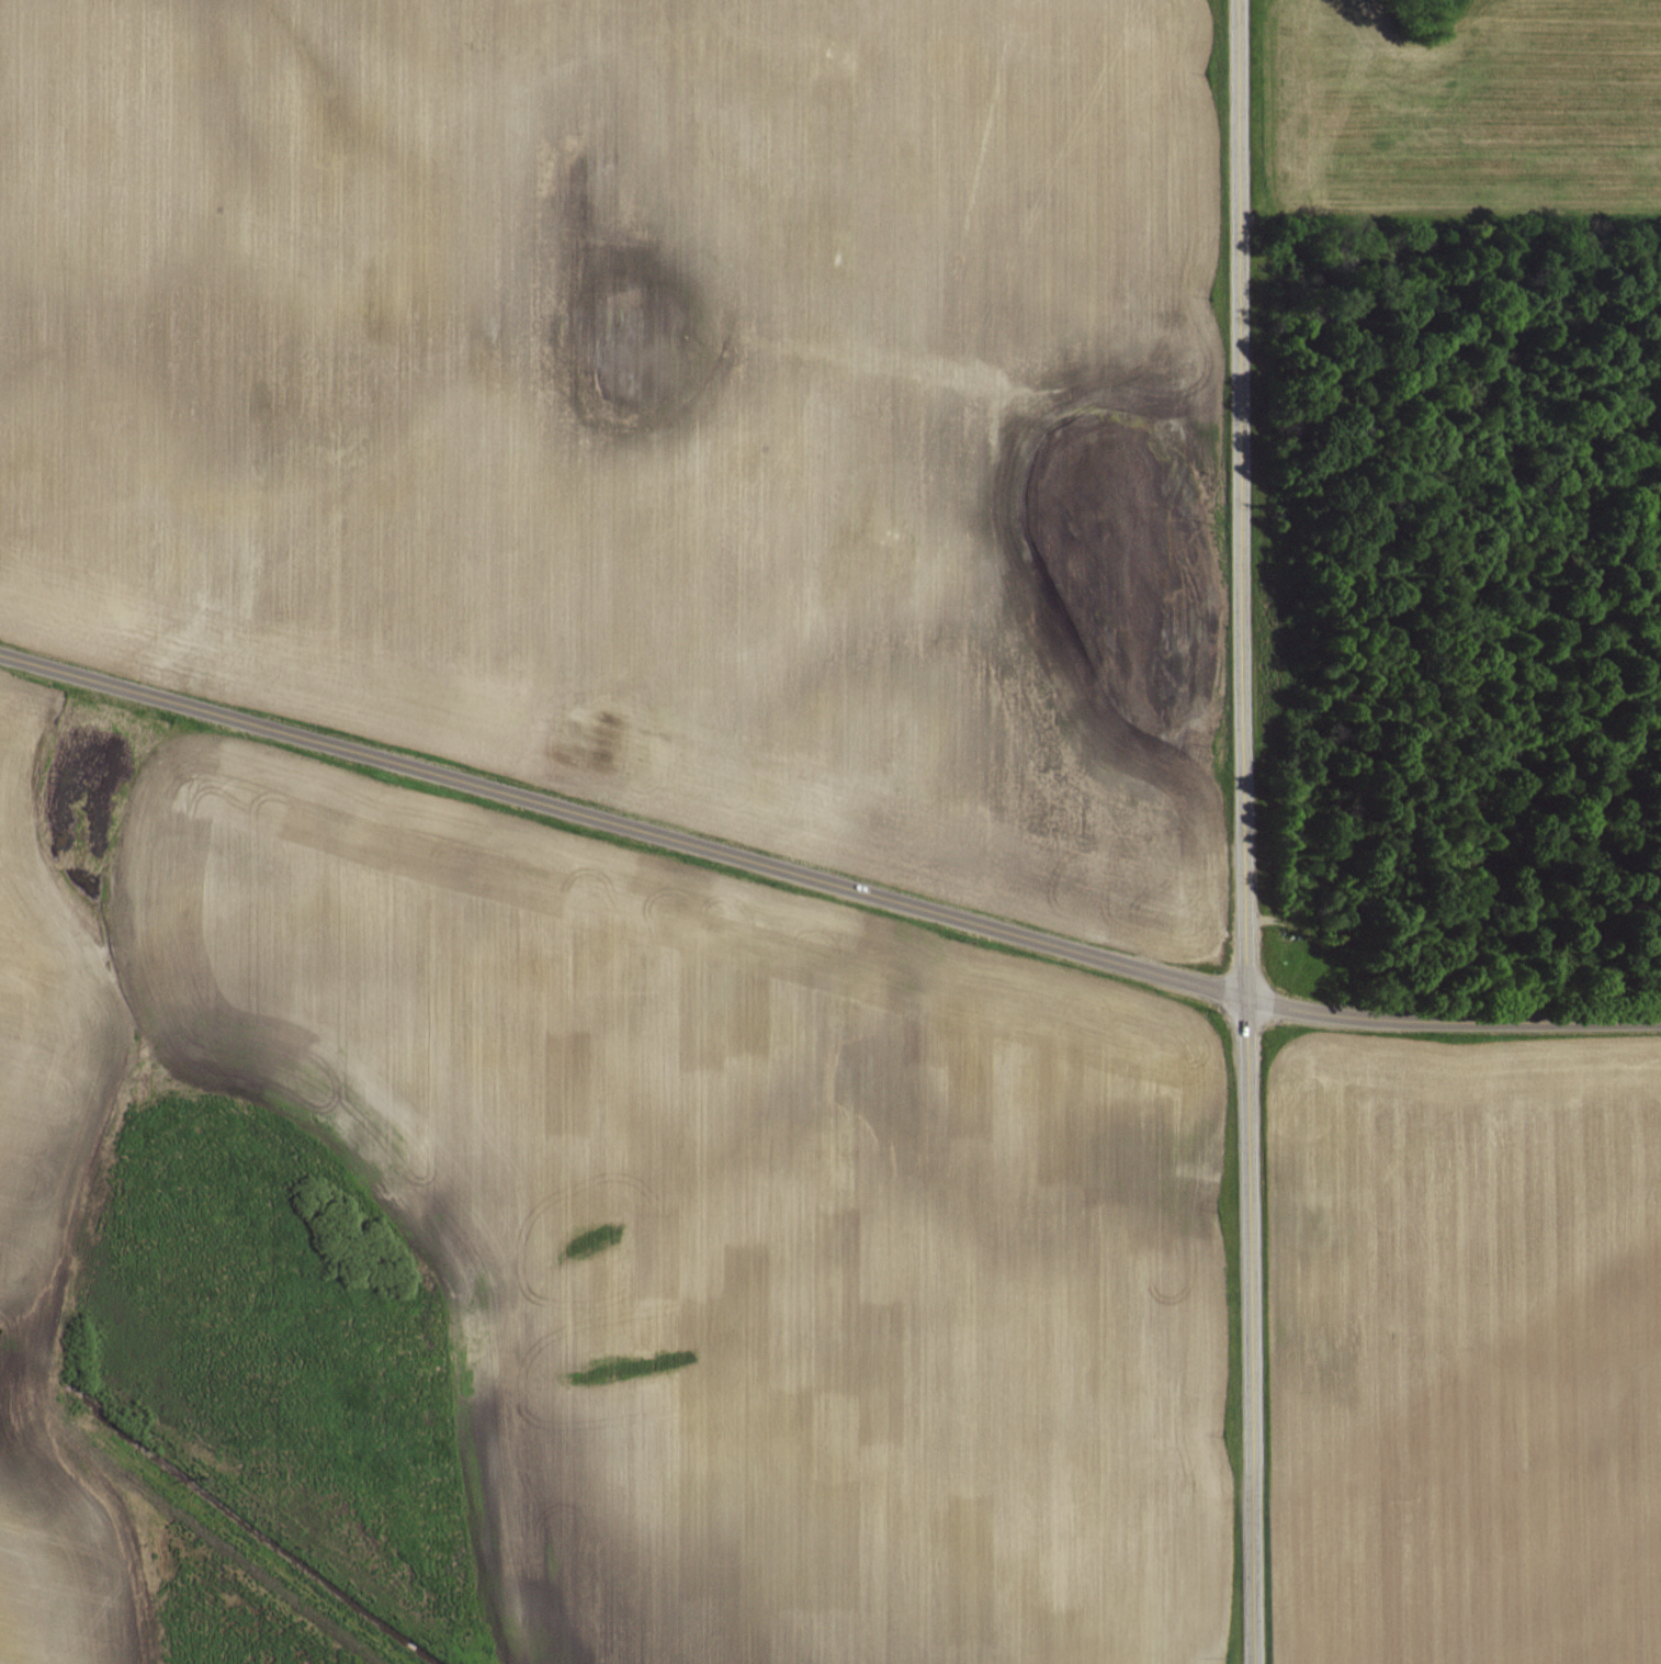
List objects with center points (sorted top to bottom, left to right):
road: (1244, 832)
road: (824, 881)

